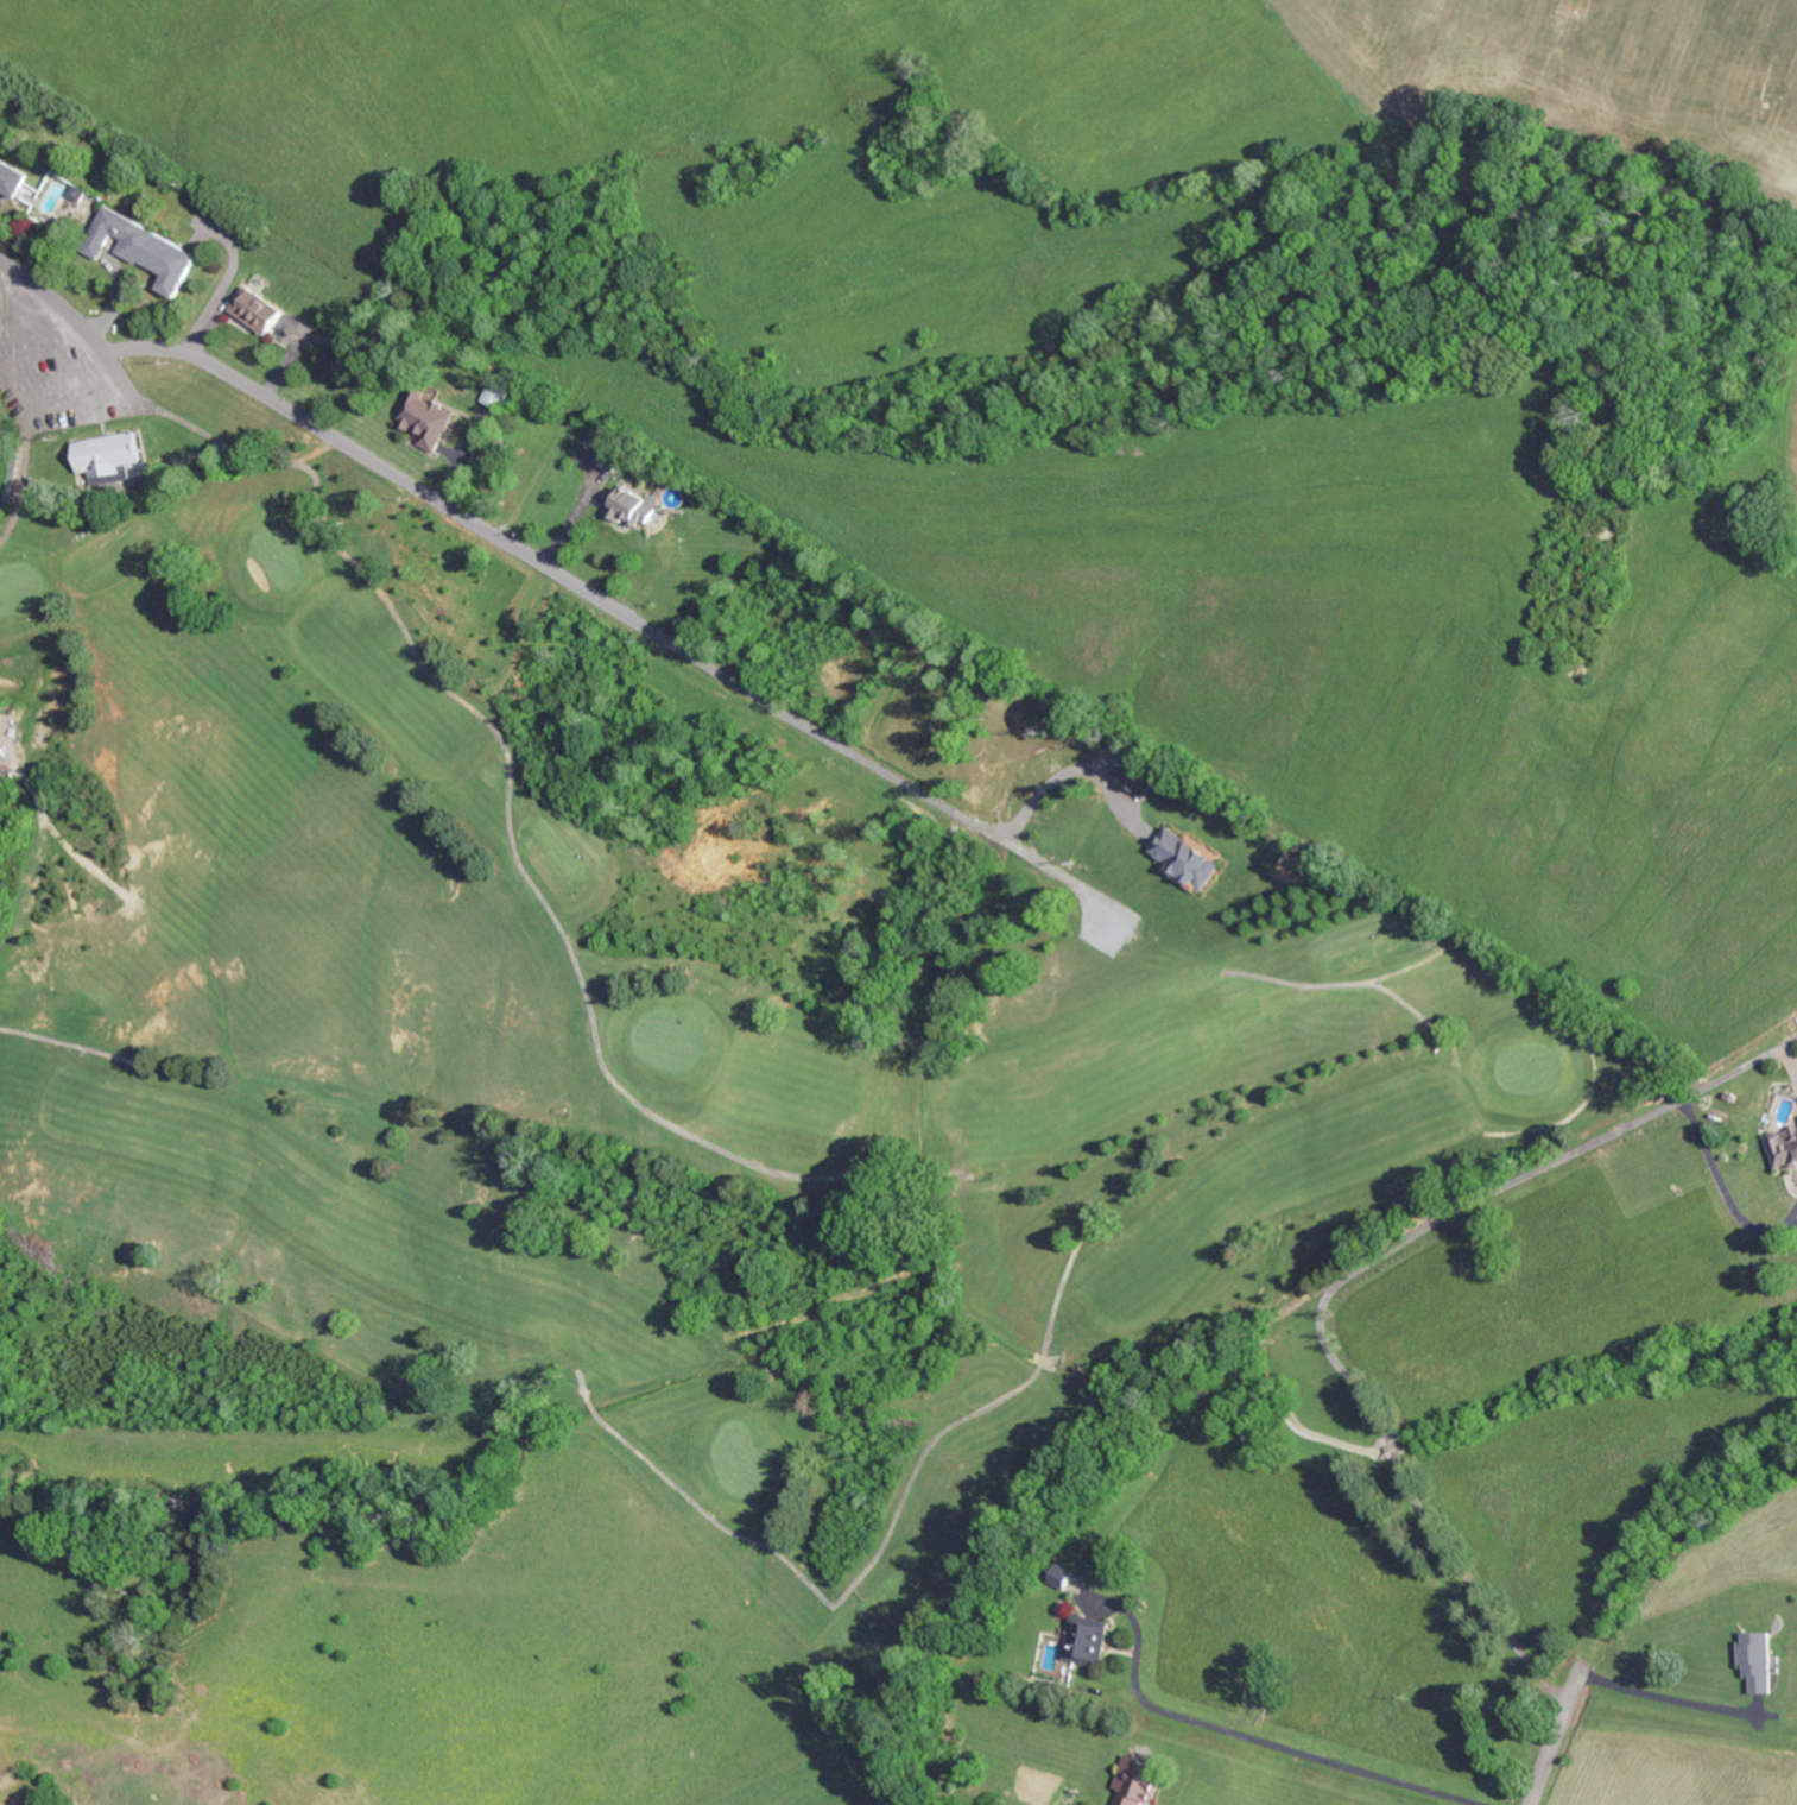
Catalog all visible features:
building: (13, 176)
building: (57, 197)
building: (147, 247)
building: (259, 309)
building: (500, 393)
building: (429, 417)
building: (109, 453)
road: (432, 499)
building: (635, 504)
building: (0, 750)
building: (1144, 778)
building: (1189, 856)
building: (1784, 1147)
building: (1092, 1639)
building: (1761, 1659)
road: (1244, 1736)
road: (1556, 1741)
building: (1139, 1780)

